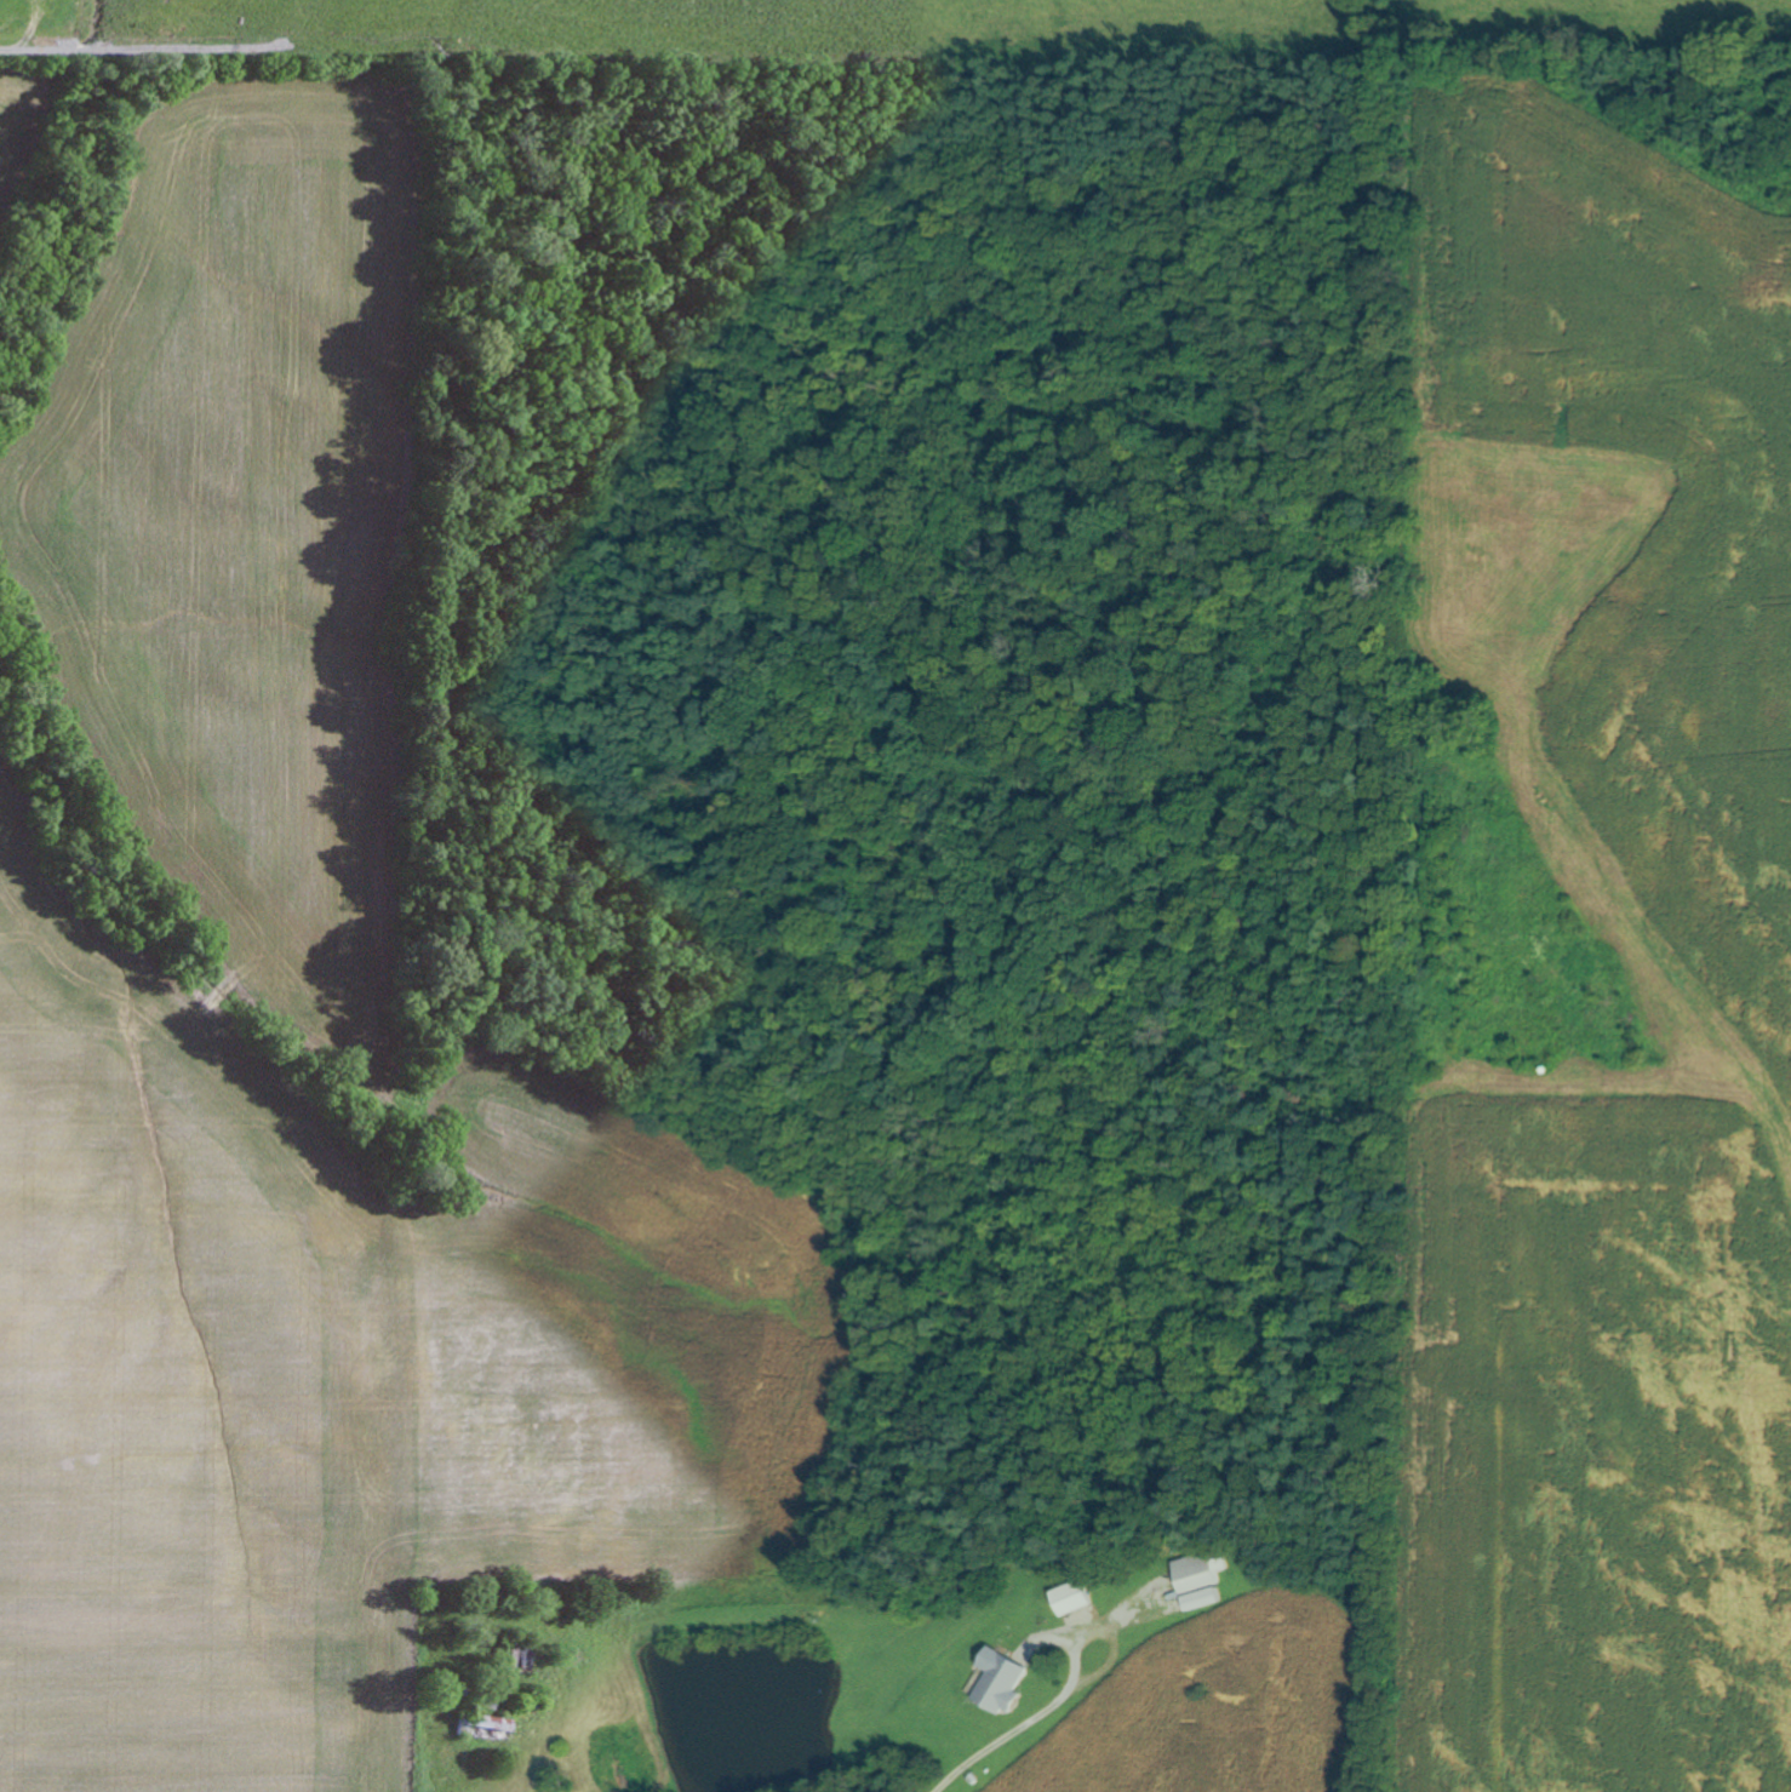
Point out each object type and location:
building: (1195, 1573)
building: (1066, 1599)
building: (995, 1683)
building: (476, 1701)
building: (477, 1729)

